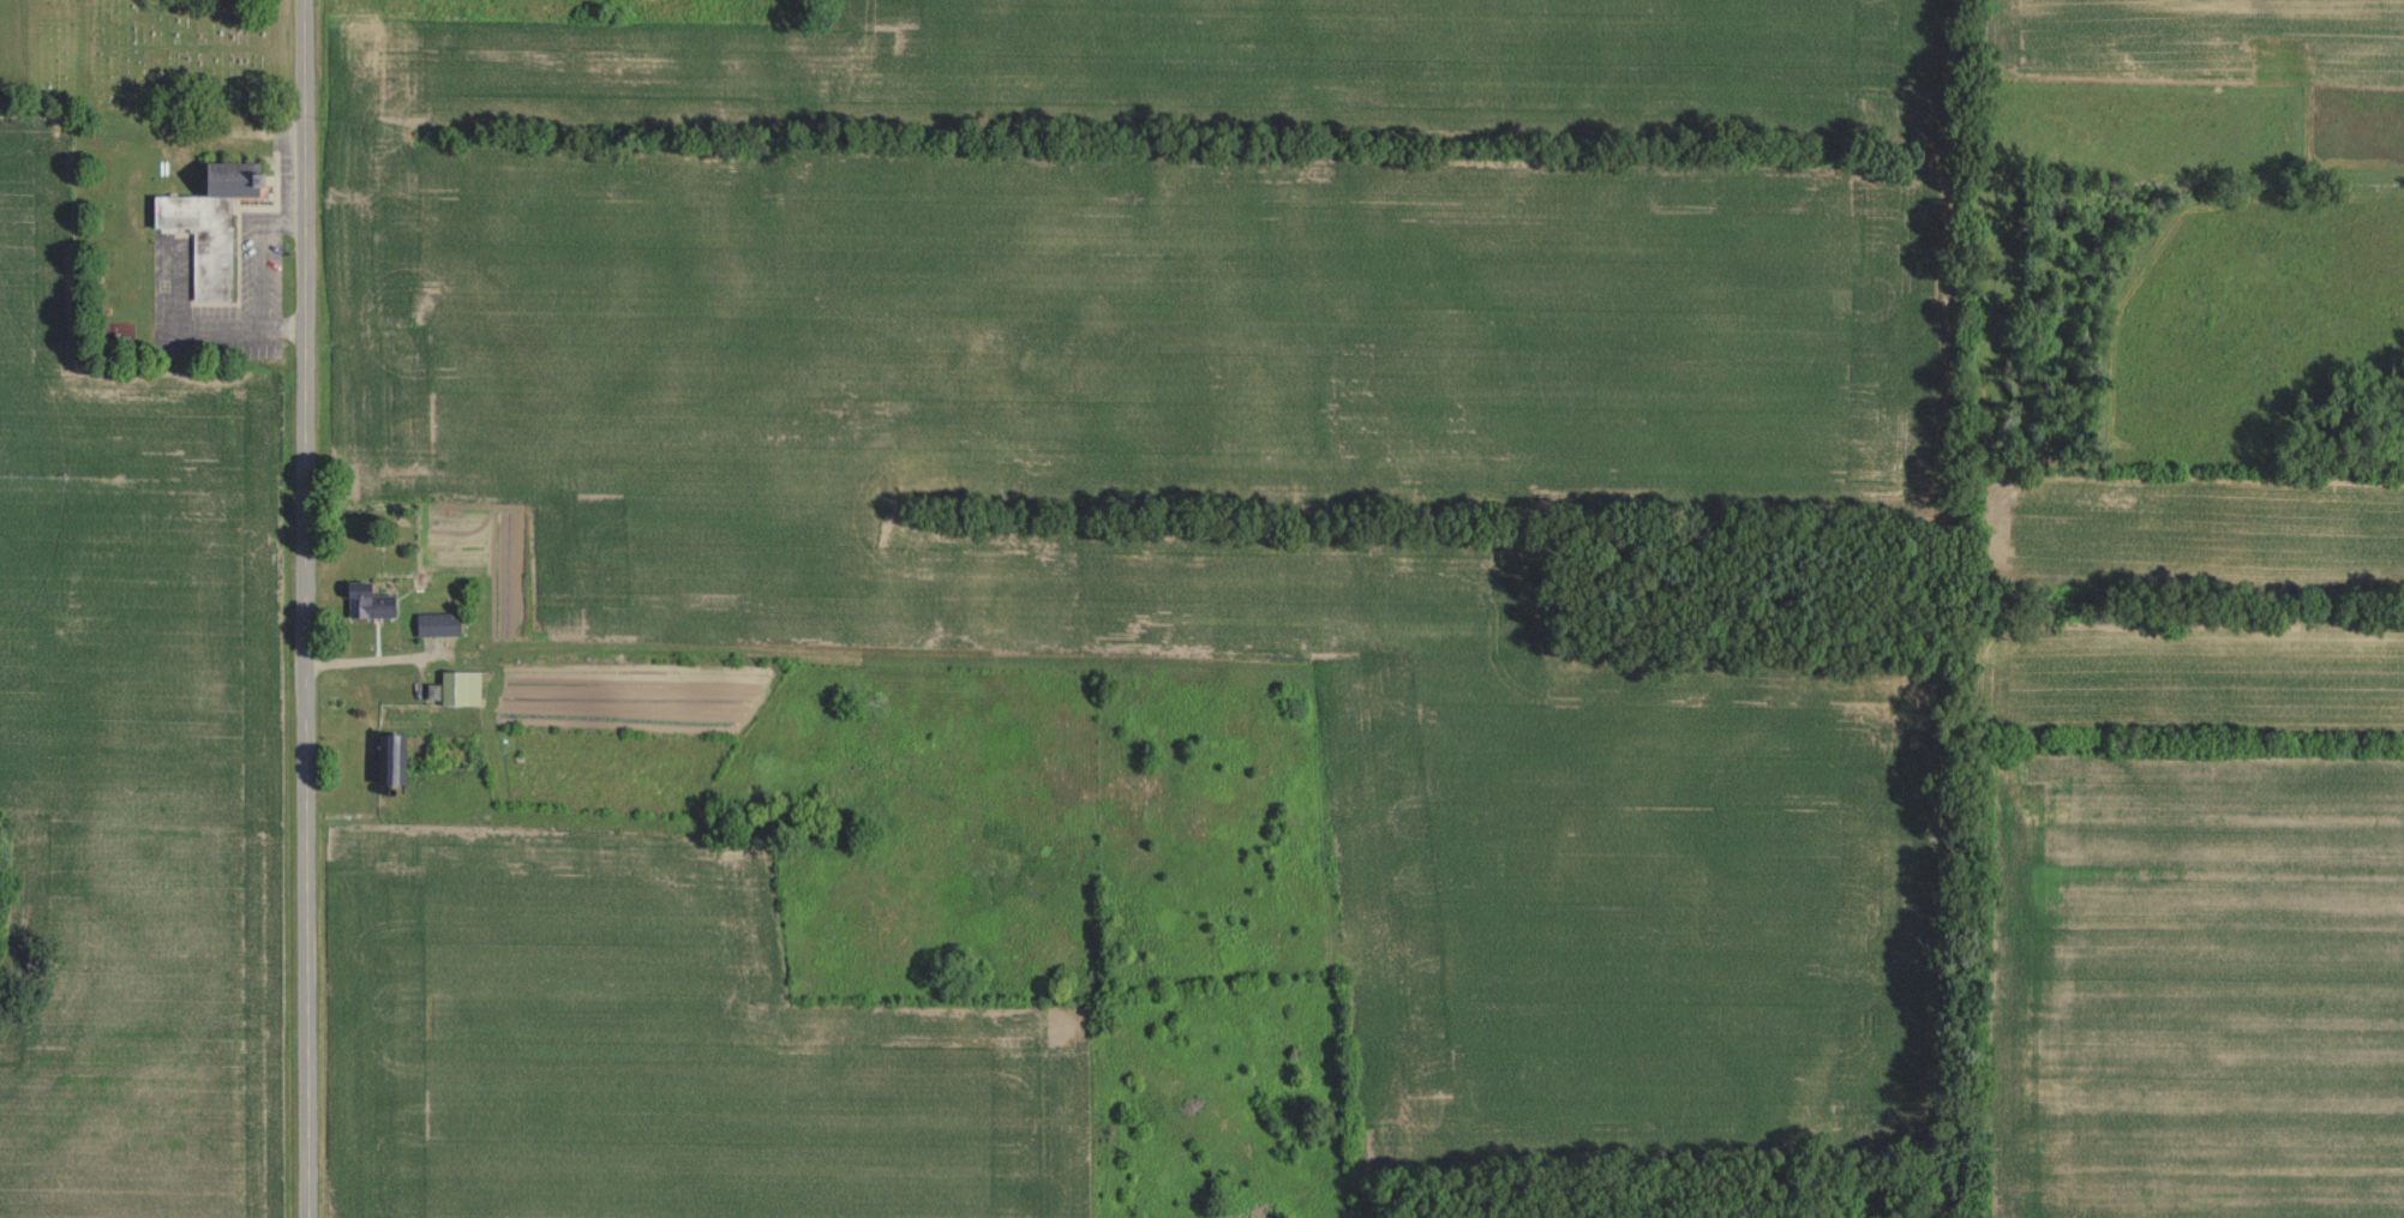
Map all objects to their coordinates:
park: (184, 52)
road: (282, 217)
building: (215, 222)
road: (258, 275)
road: (283, 332)
building: (372, 600)
road: (307, 608)
building: (440, 623)
building: (461, 686)
building: (394, 756)

